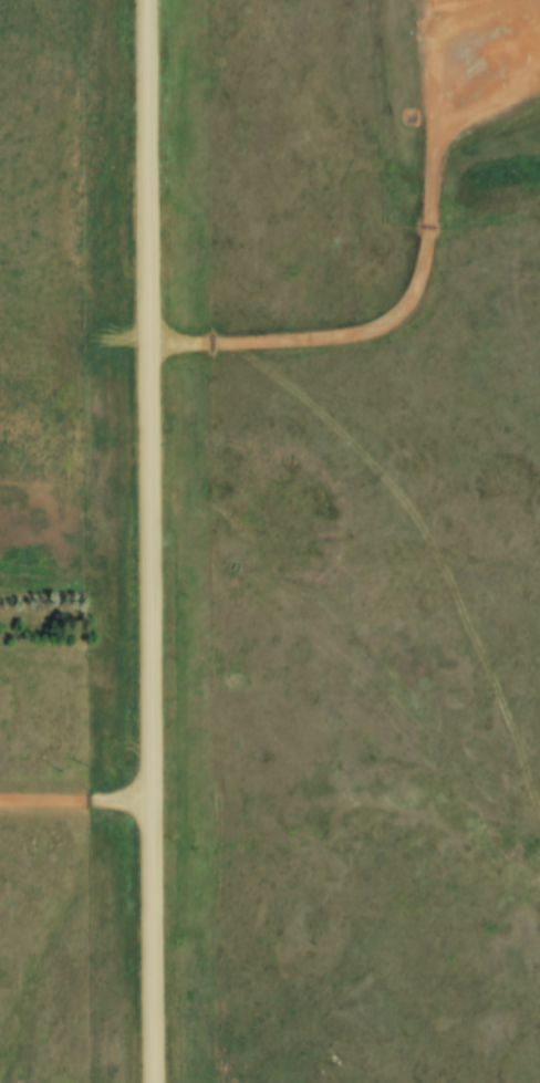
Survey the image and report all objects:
road: (423, 273)
road: (149, 541)
road: (137, 785)
road: (79, 801)

